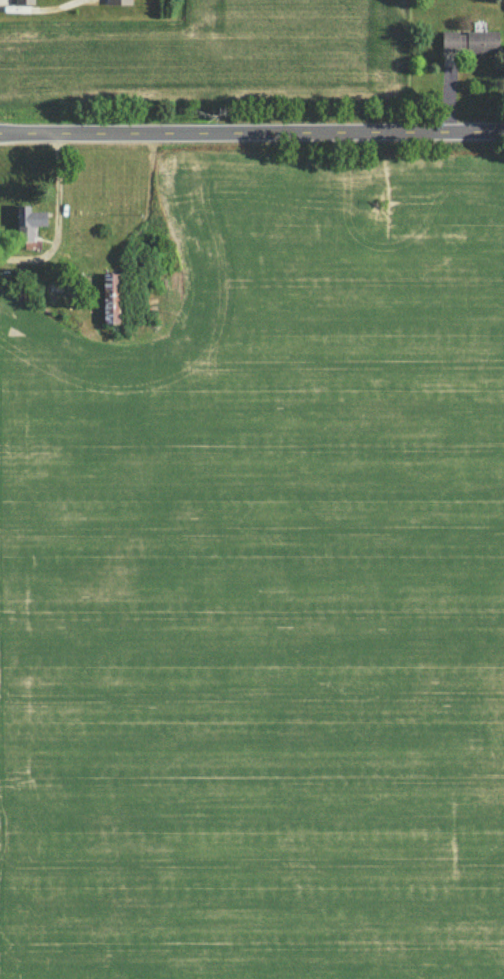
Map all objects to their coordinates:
building: (23, 2)
building: (469, 41)
road: (251, 132)
road: (56, 218)
building: (28, 222)
building: (111, 297)

